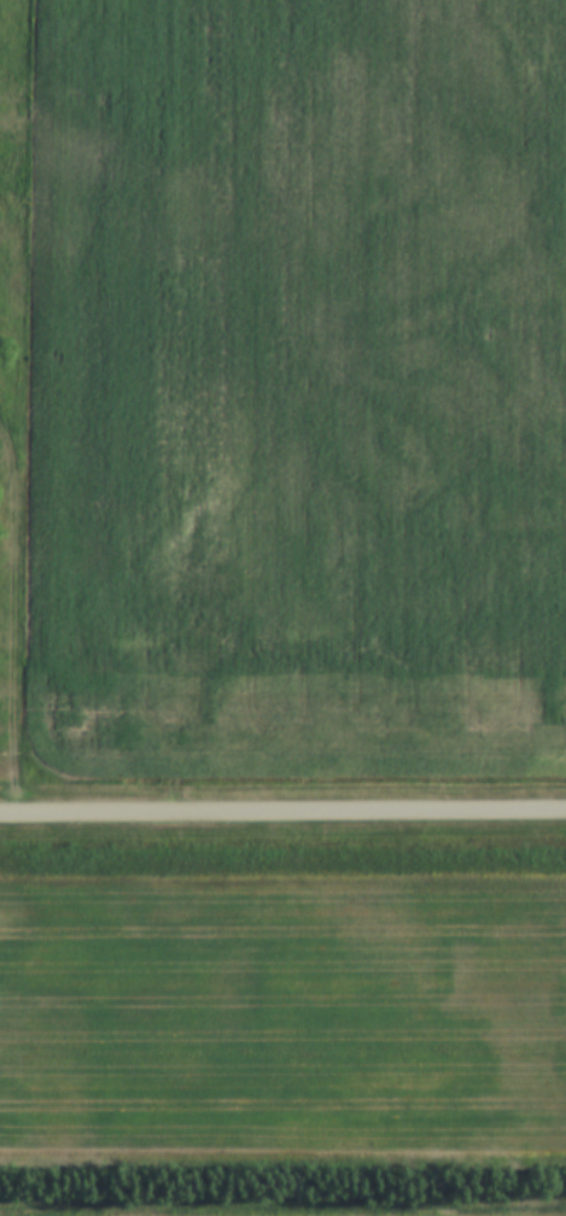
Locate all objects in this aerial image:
road: (282, 811)

